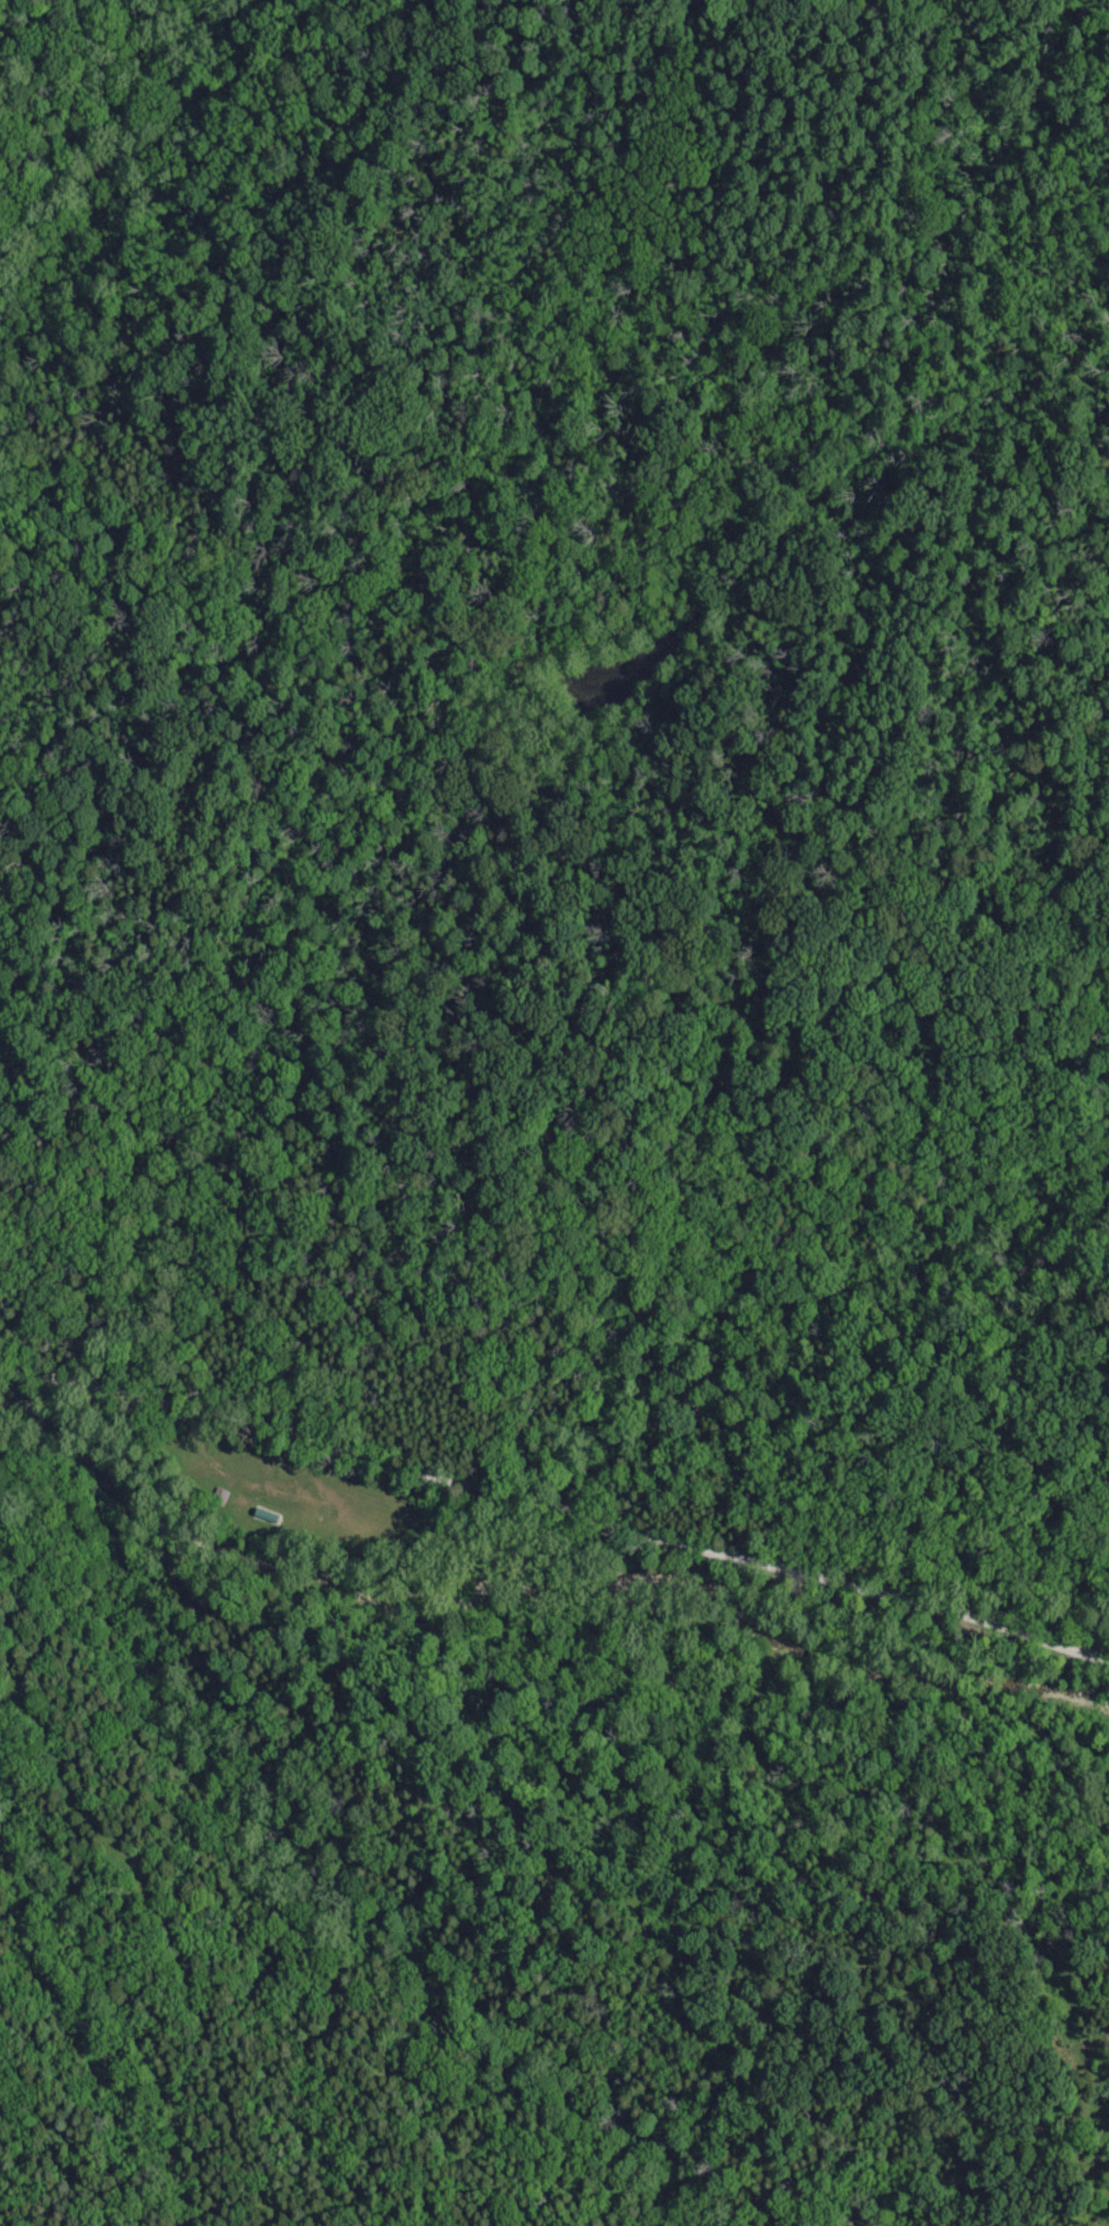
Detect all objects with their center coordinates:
road: (559, 1473)

